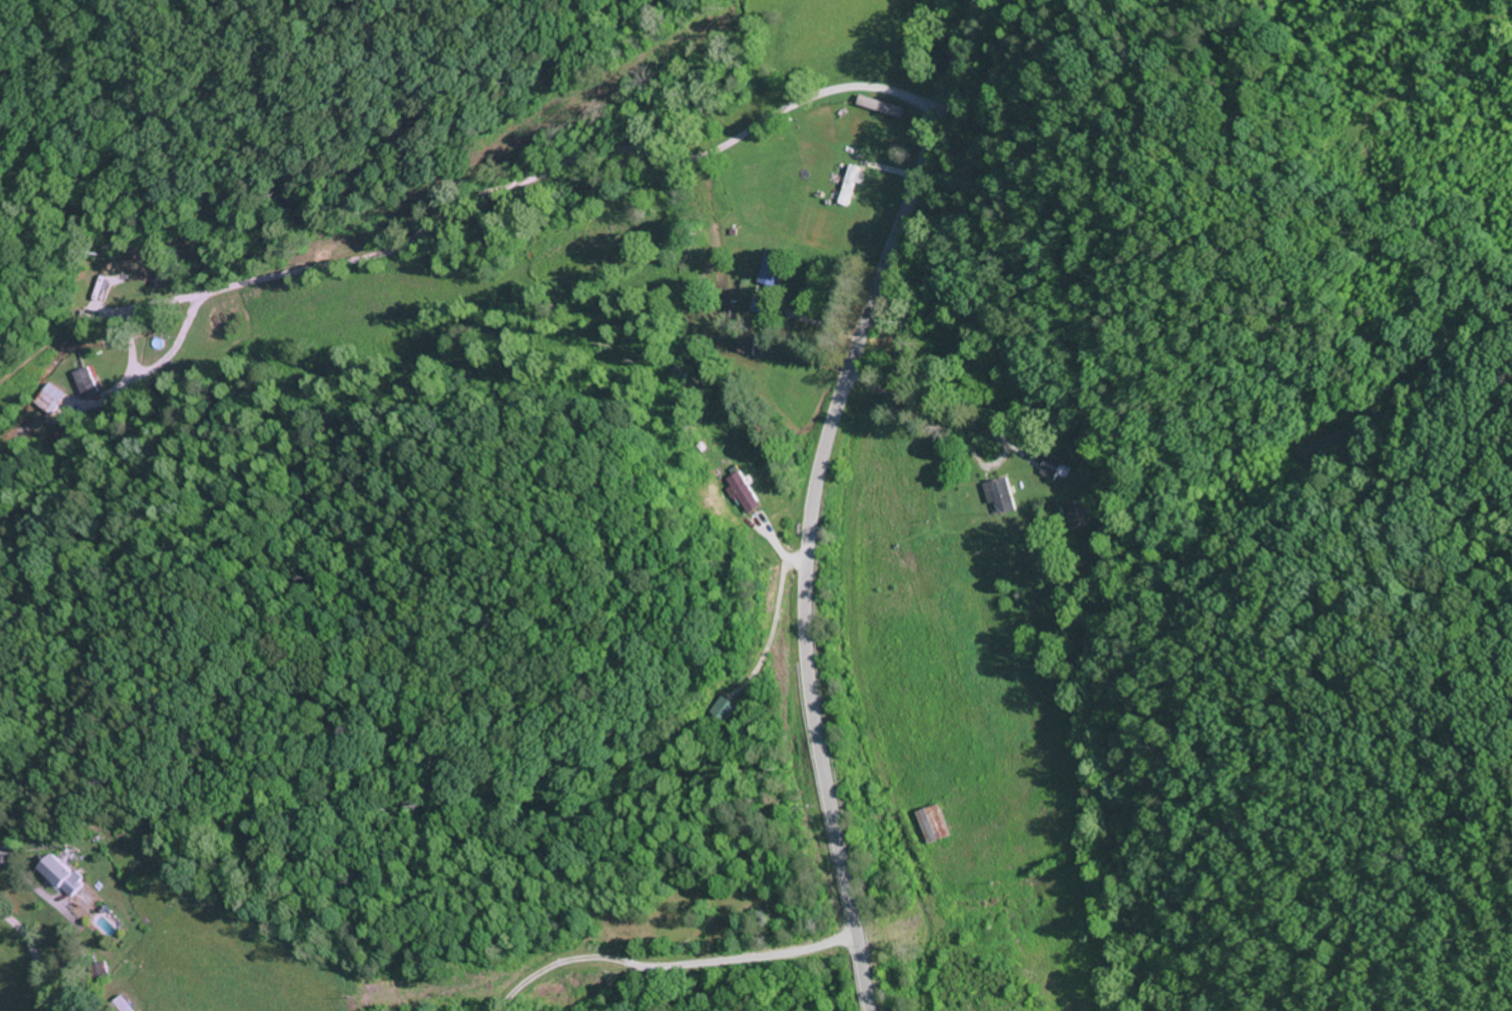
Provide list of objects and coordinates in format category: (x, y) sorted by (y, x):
road: (510, 188)
building: (773, 270)
building: (112, 288)
building: (89, 381)
building: (55, 396)
road: (1037, 461)
building: (1055, 467)
building: (747, 494)
building: (1005, 495)
road: (817, 496)
building: (1081, 514)
building: (724, 710)
building: (936, 825)
building: (65, 875)
road: (16, 999)
building: (126, 1004)

